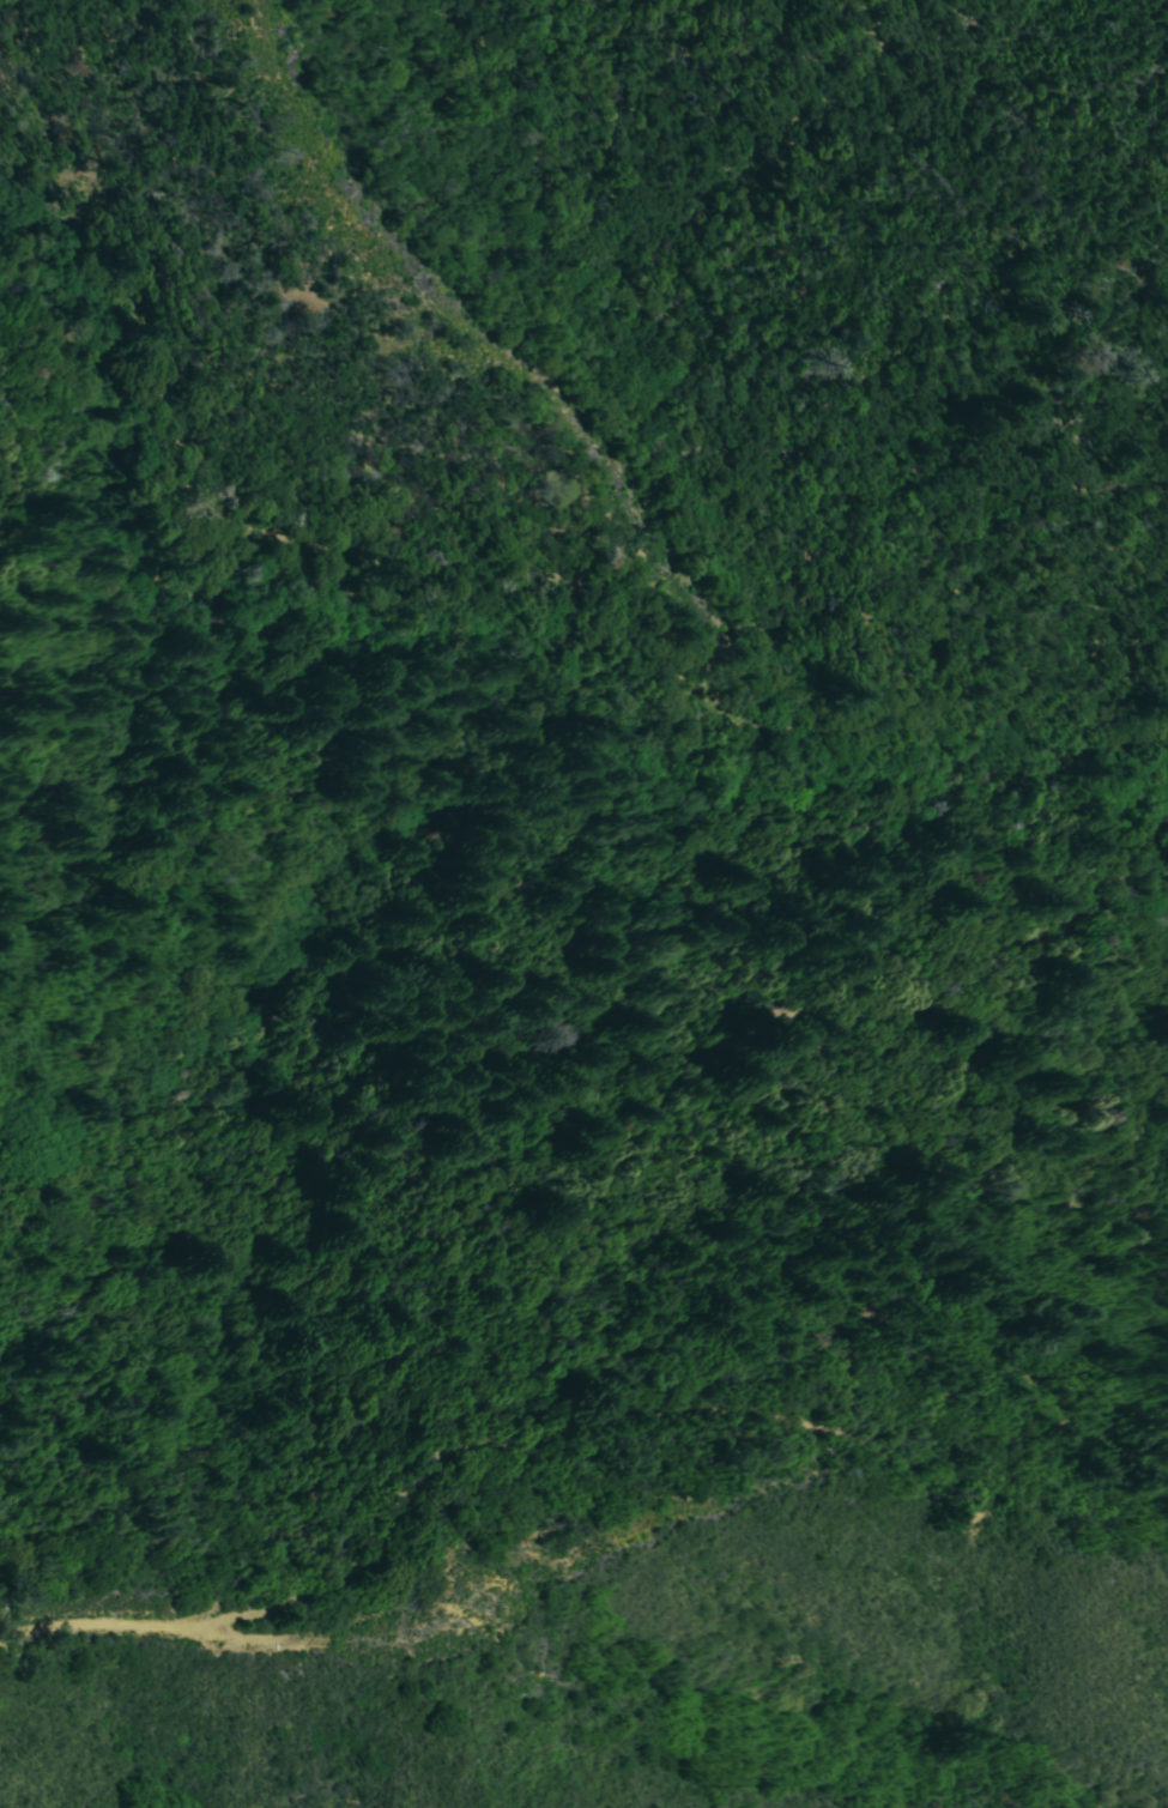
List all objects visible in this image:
road: (502, 381)
road: (845, 1038)
road: (776, 1416)

